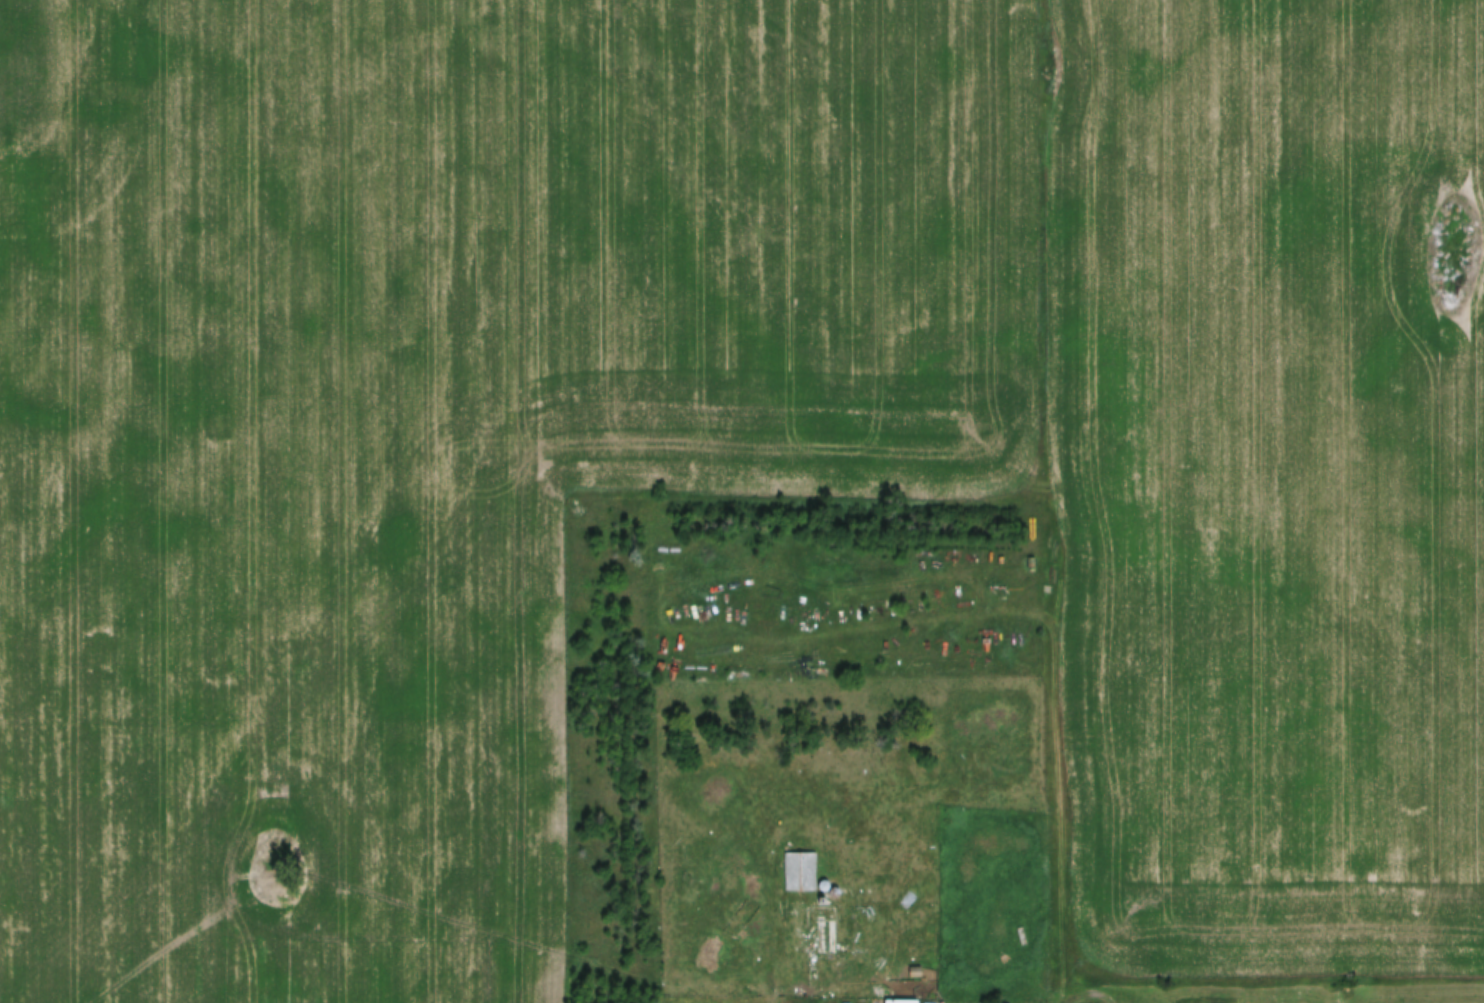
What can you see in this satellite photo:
building: (800, 874)
building: (903, 1002)

